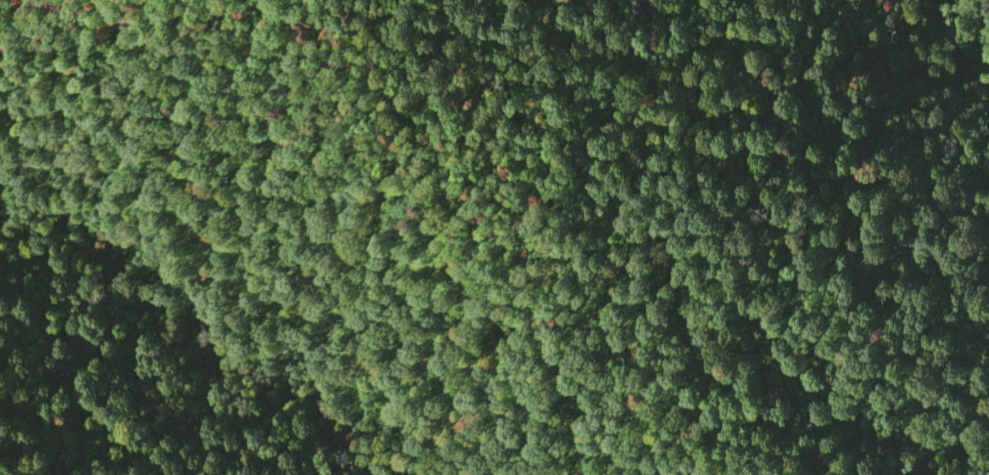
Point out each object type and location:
road: (902, 249)

